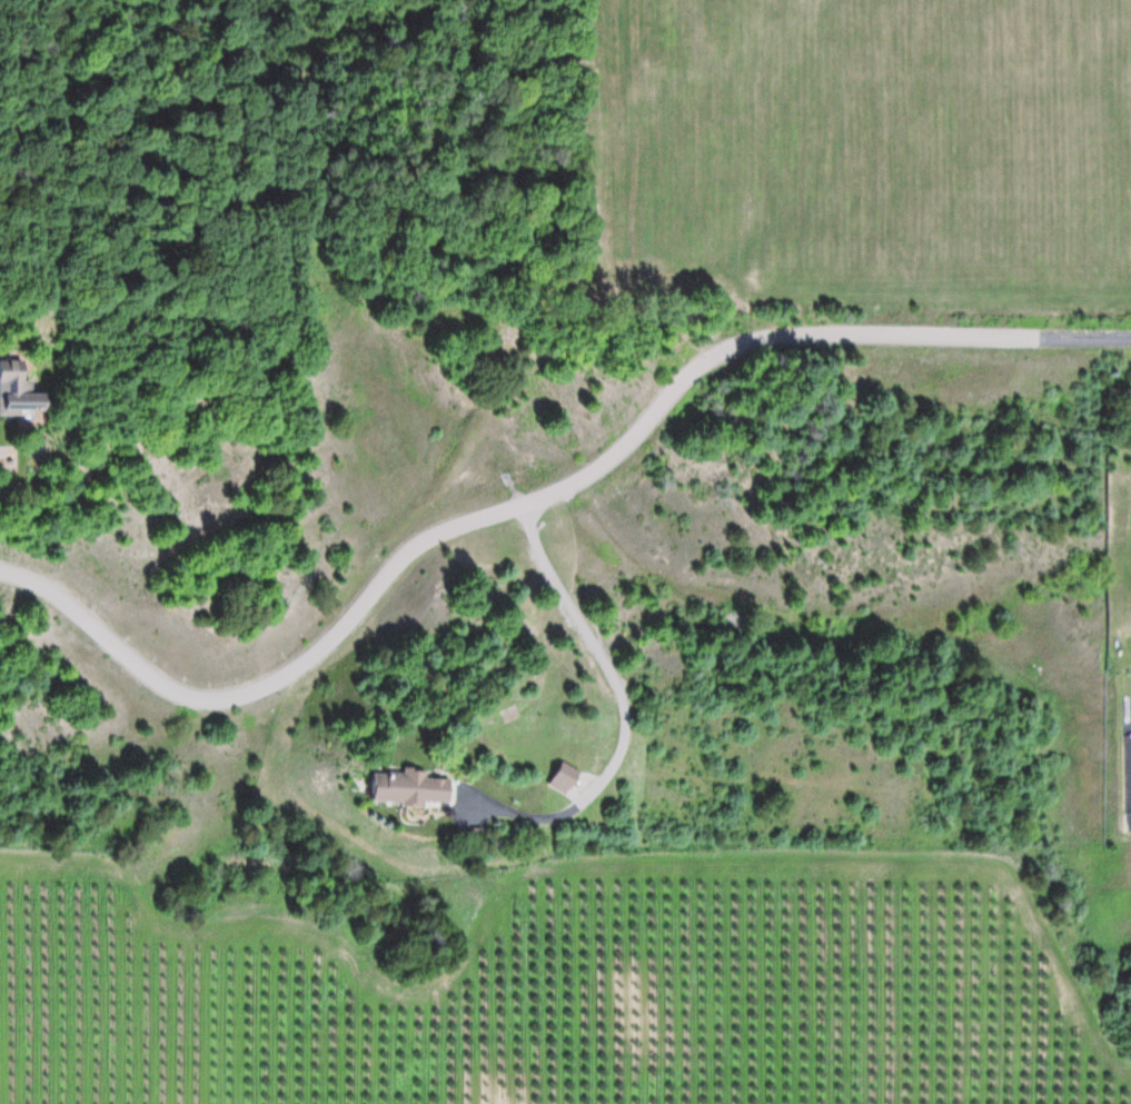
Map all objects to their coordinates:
building: (20, 390)
road: (539, 501)
building: (1123, 772)
building: (411, 787)

